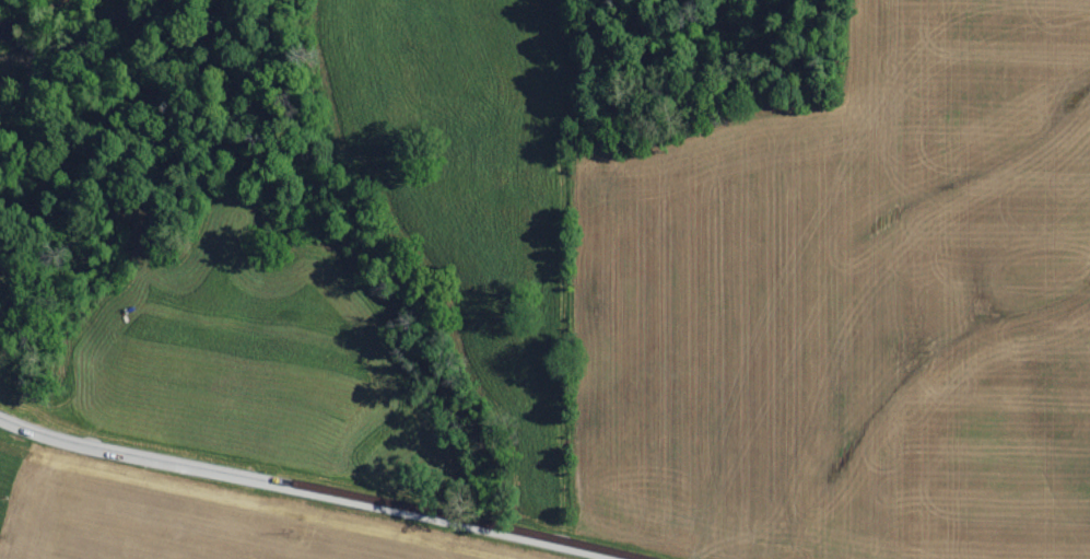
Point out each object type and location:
river: (39, 18)
road: (312, 491)

